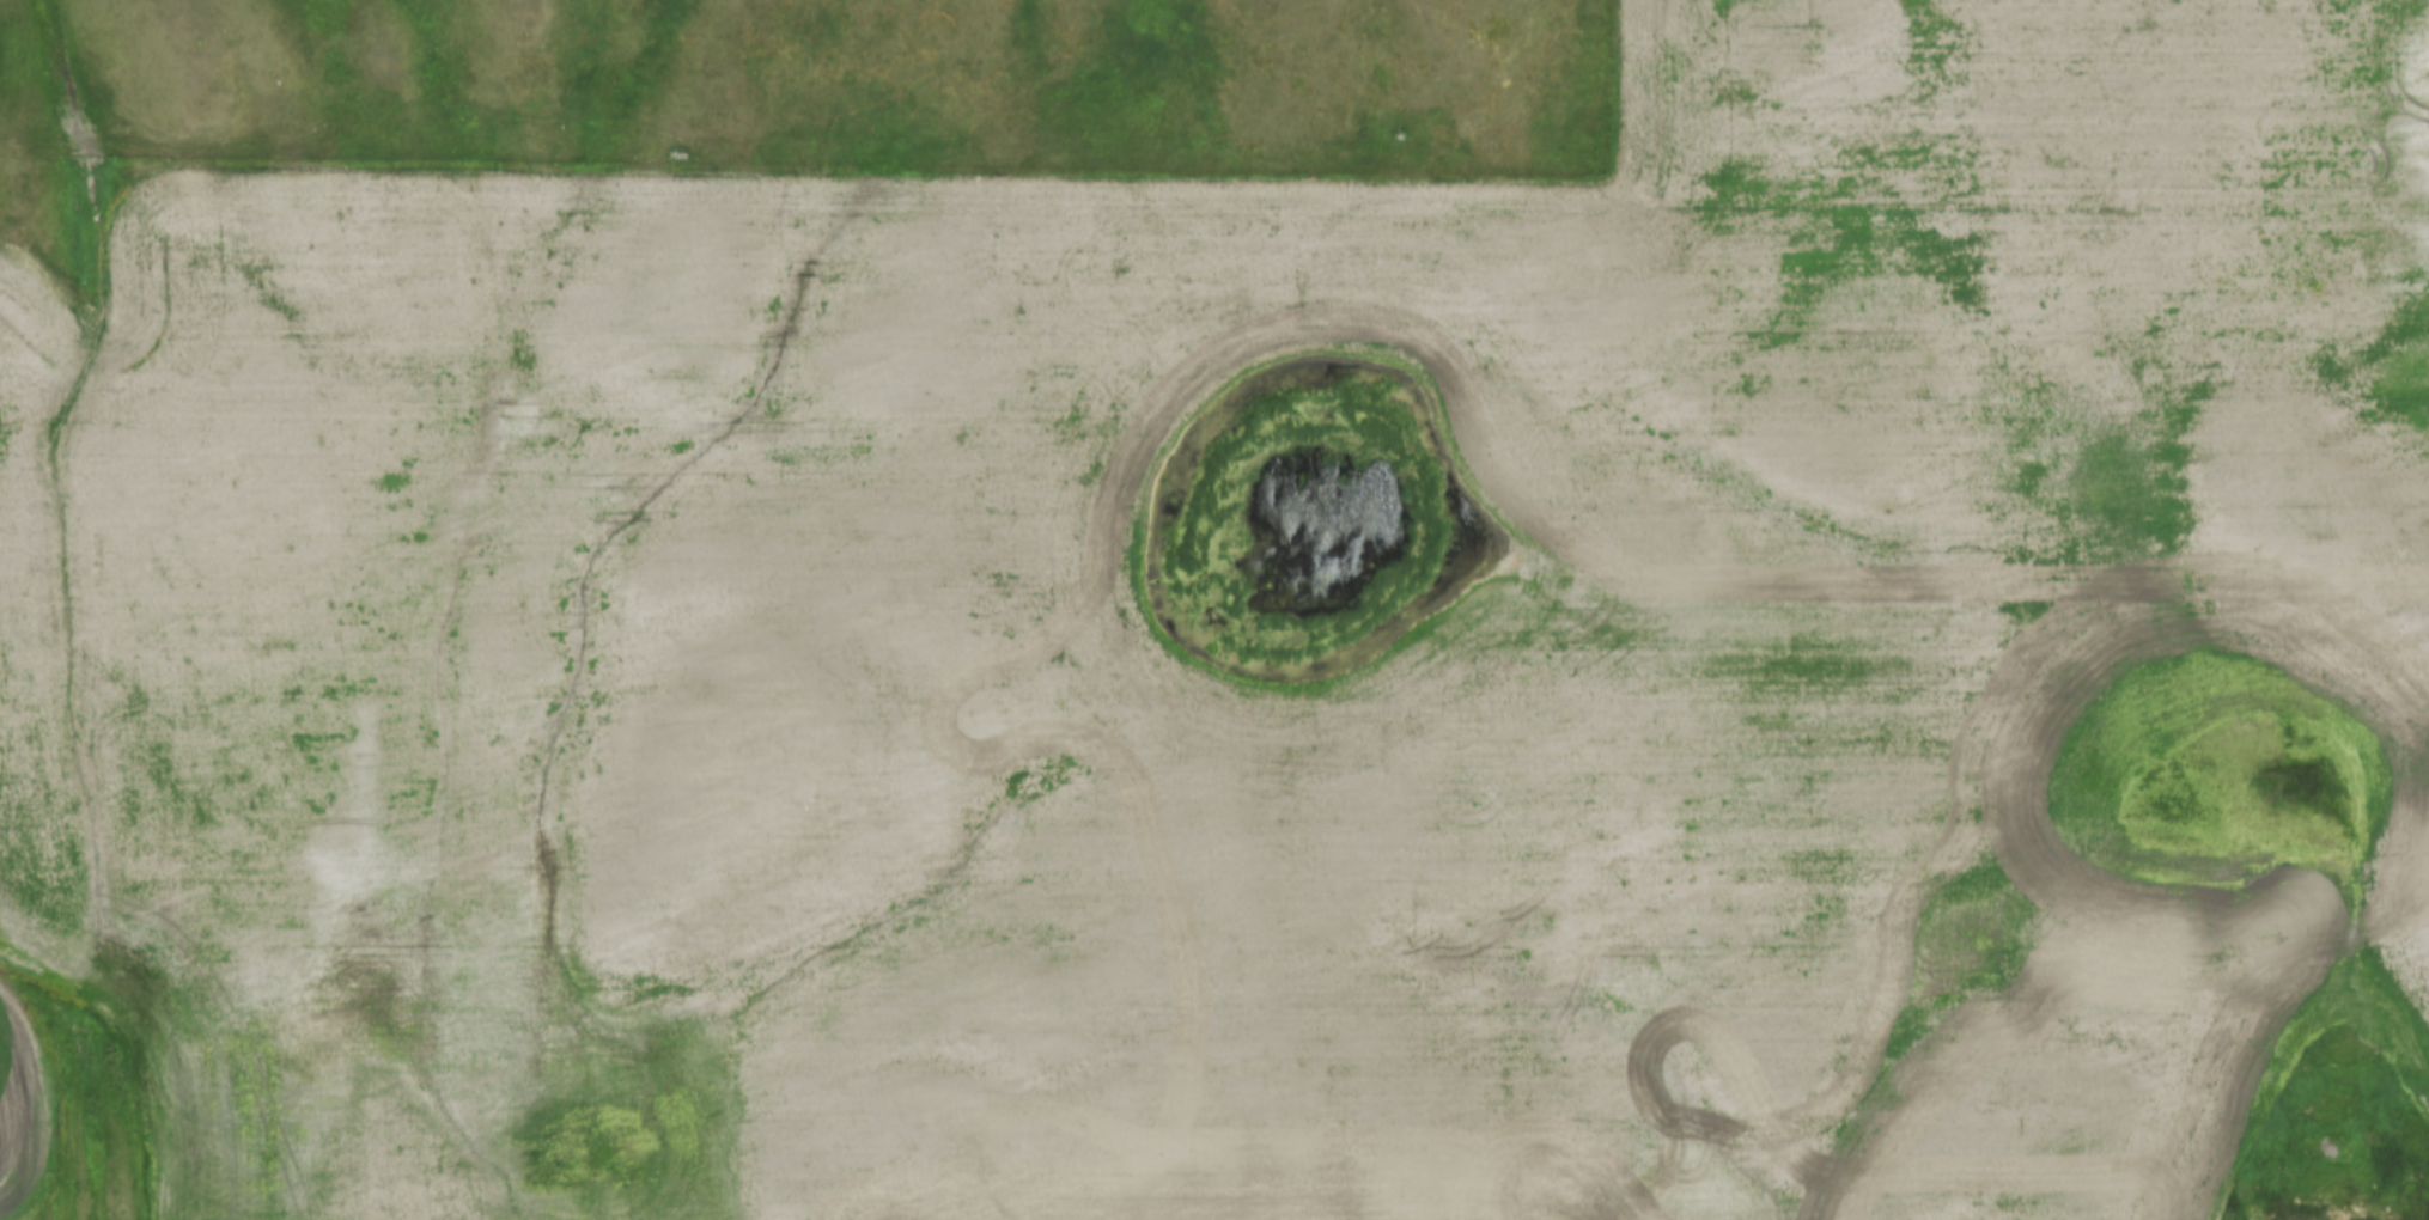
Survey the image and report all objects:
building: (1987, 520)

